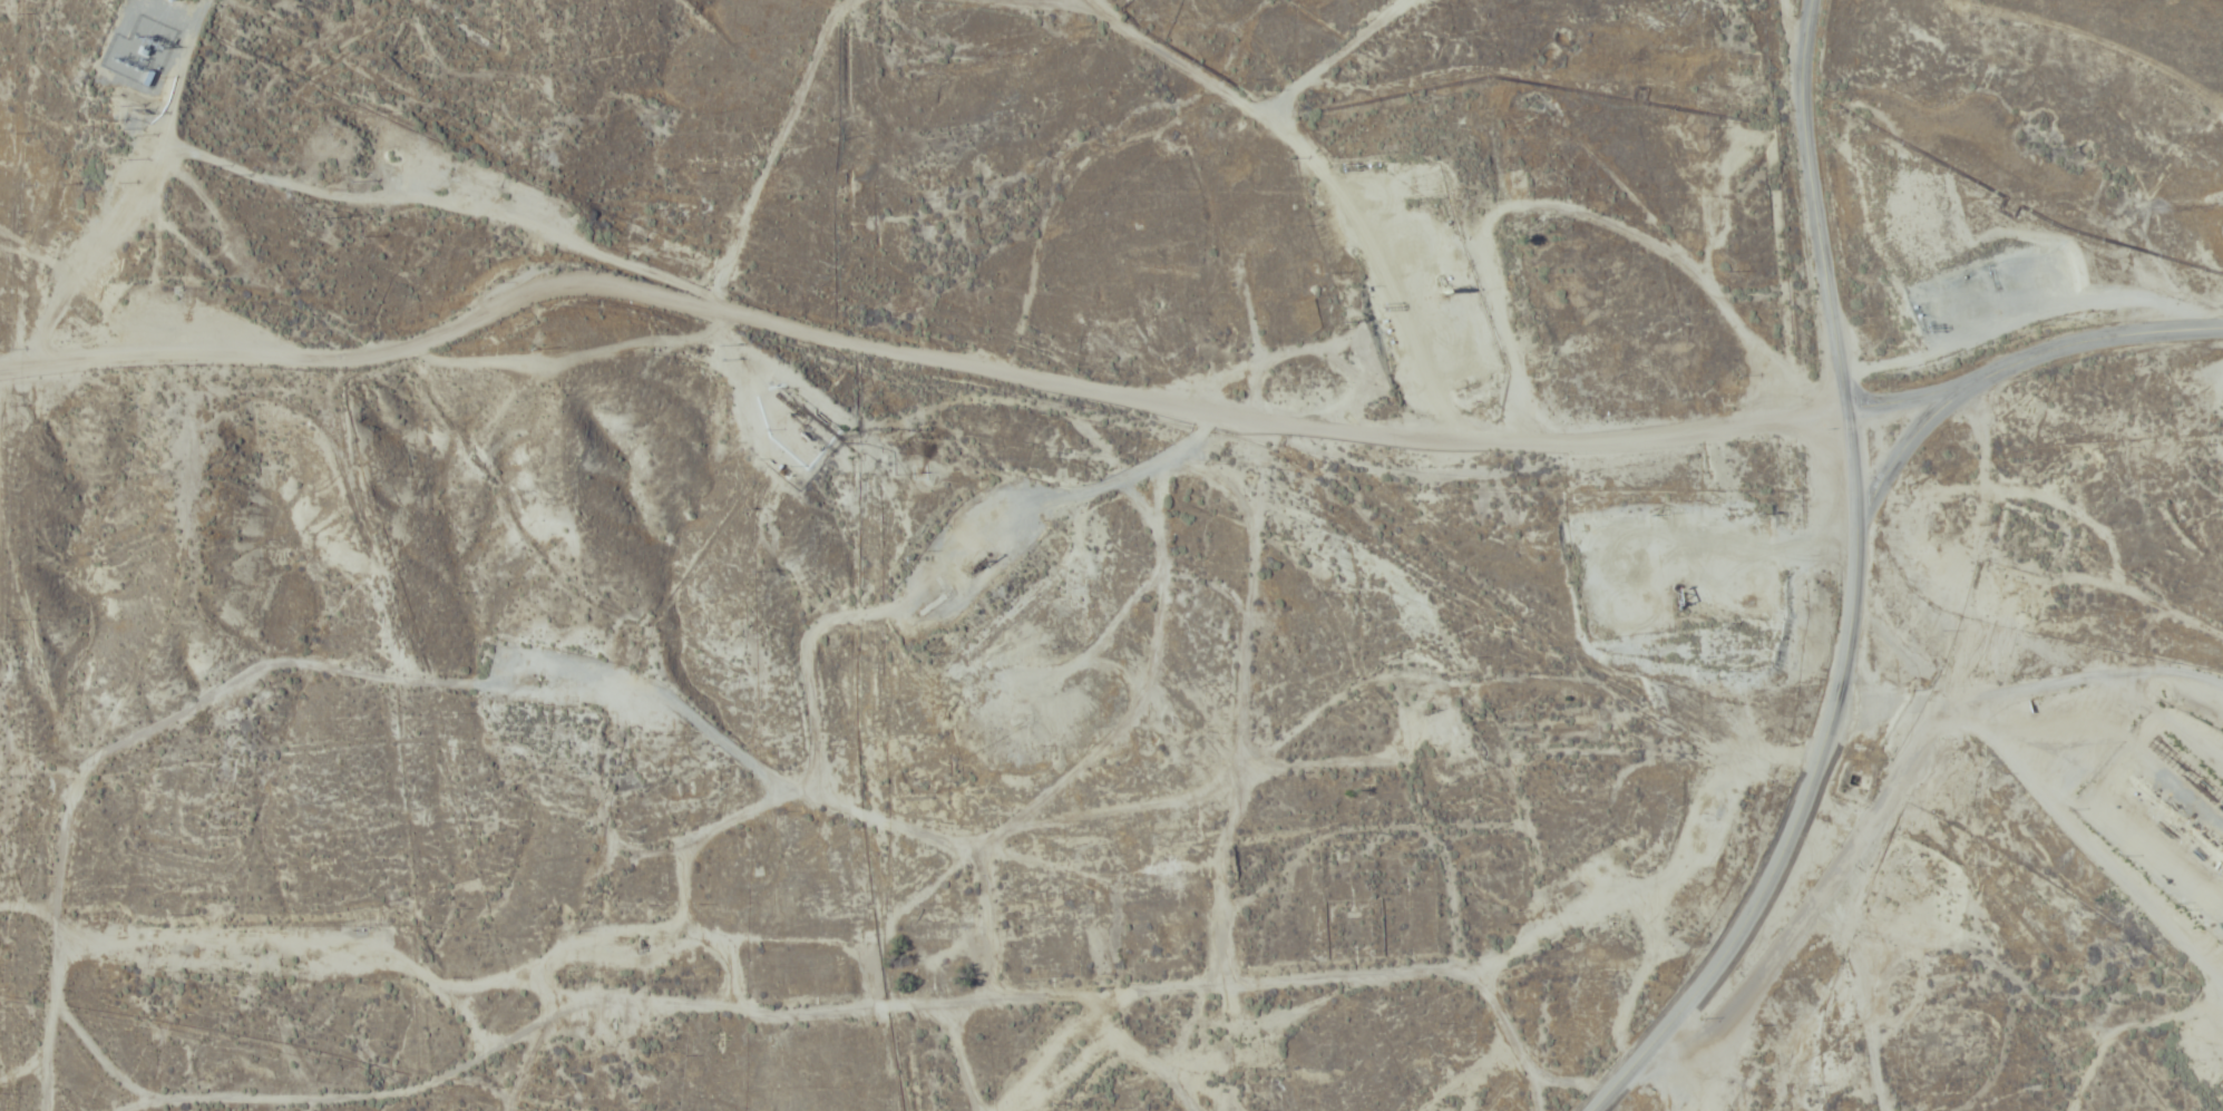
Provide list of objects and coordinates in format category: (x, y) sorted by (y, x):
road: (2001, 368)
road: (1909, 396)
road: (923, 397)
road: (1851, 591)
road: (2038, 780)
road: (1807, 993)
road: (1336, 1054)
road: (950, 1085)

